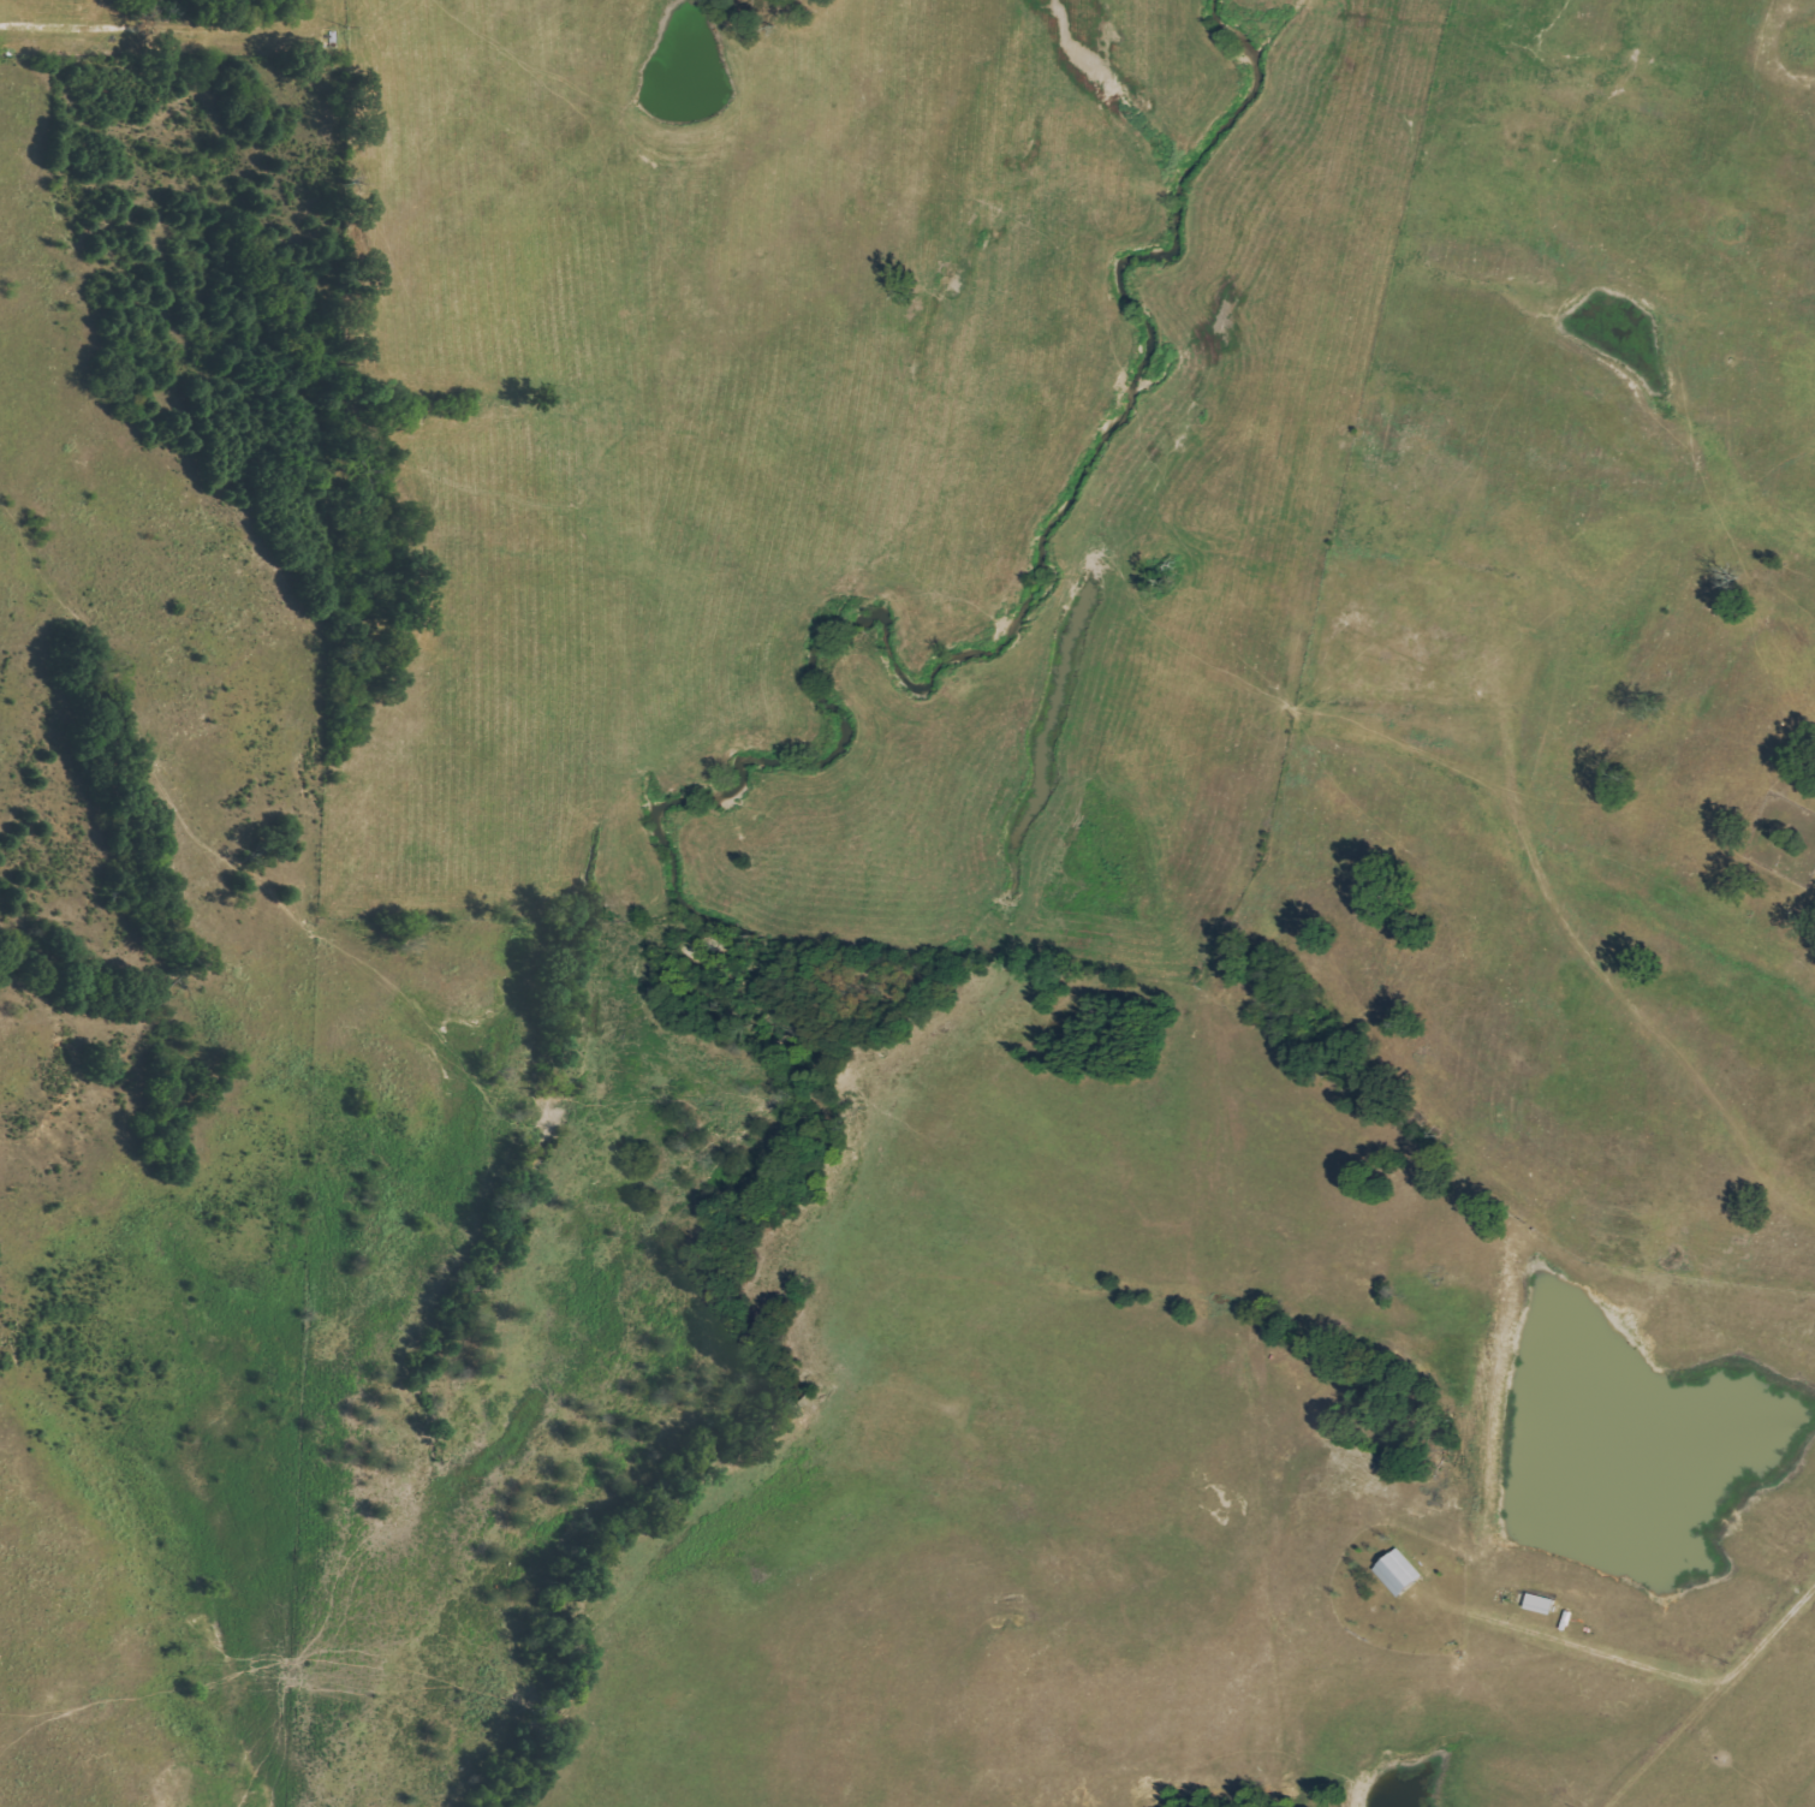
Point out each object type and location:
park: (1784, 839)
building: (1398, 1573)

